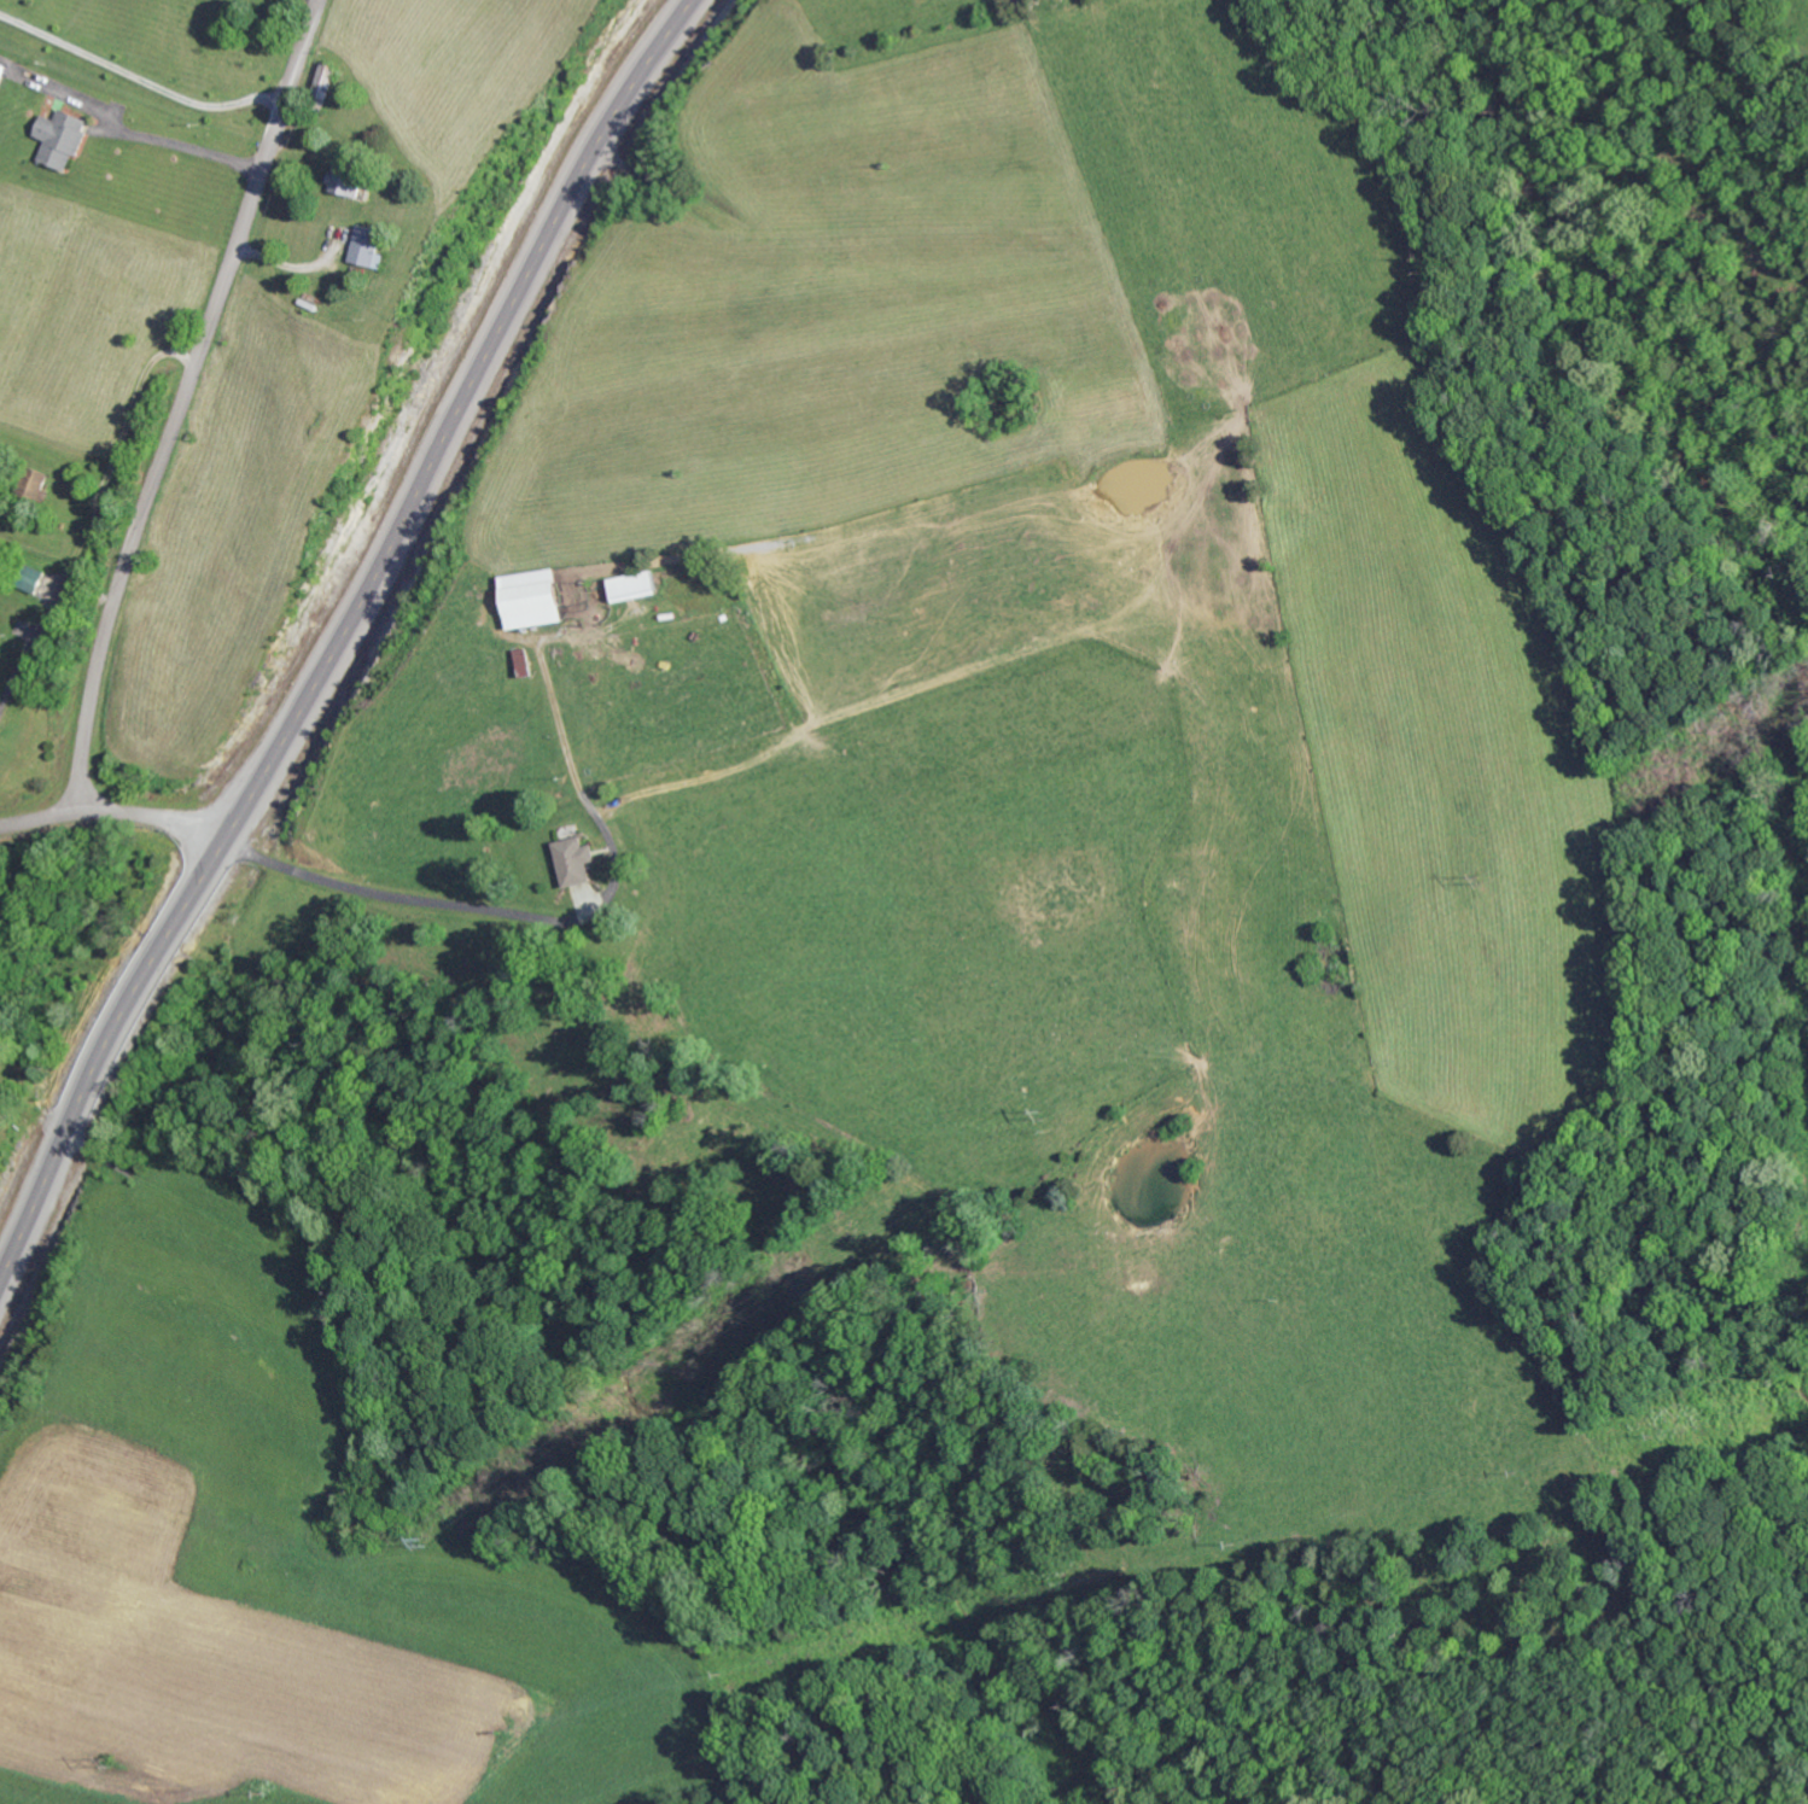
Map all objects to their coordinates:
building: (2, 70)
building: (327, 77)
building: (63, 136)
building: (348, 180)
building: (368, 246)
road: (183, 401)
building: (35, 578)
building: (636, 584)
building: (535, 597)
road: (329, 626)
road: (112, 810)
building: (575, 860)

